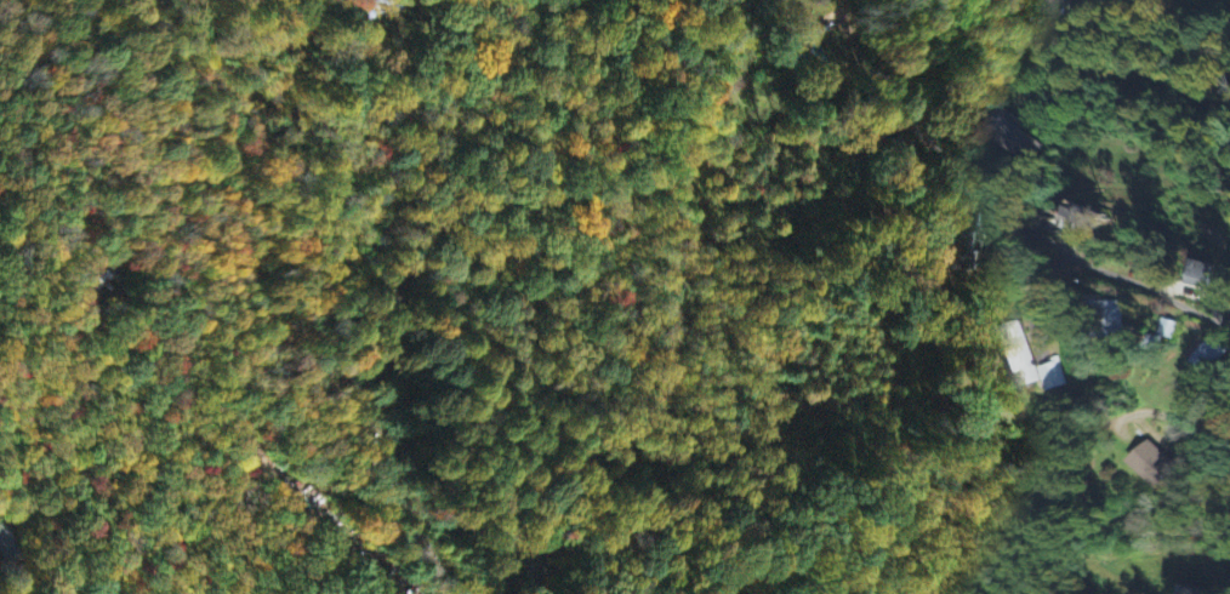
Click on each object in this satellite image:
building: (1054, 11)
building: (805, 53)
road: (1004, 211)
building: (1072, 218)
building: (959, 250)
road: (662, 285)
building: (1114, 320)
building: (1018, 356)
building: (1211, 356)
building: (1052, 377)
road: (1226, 457)
building: (1151, 466)
building: (8, 538)
road: (499, 564)
building: (536, 567)
road: (1228, 581)

